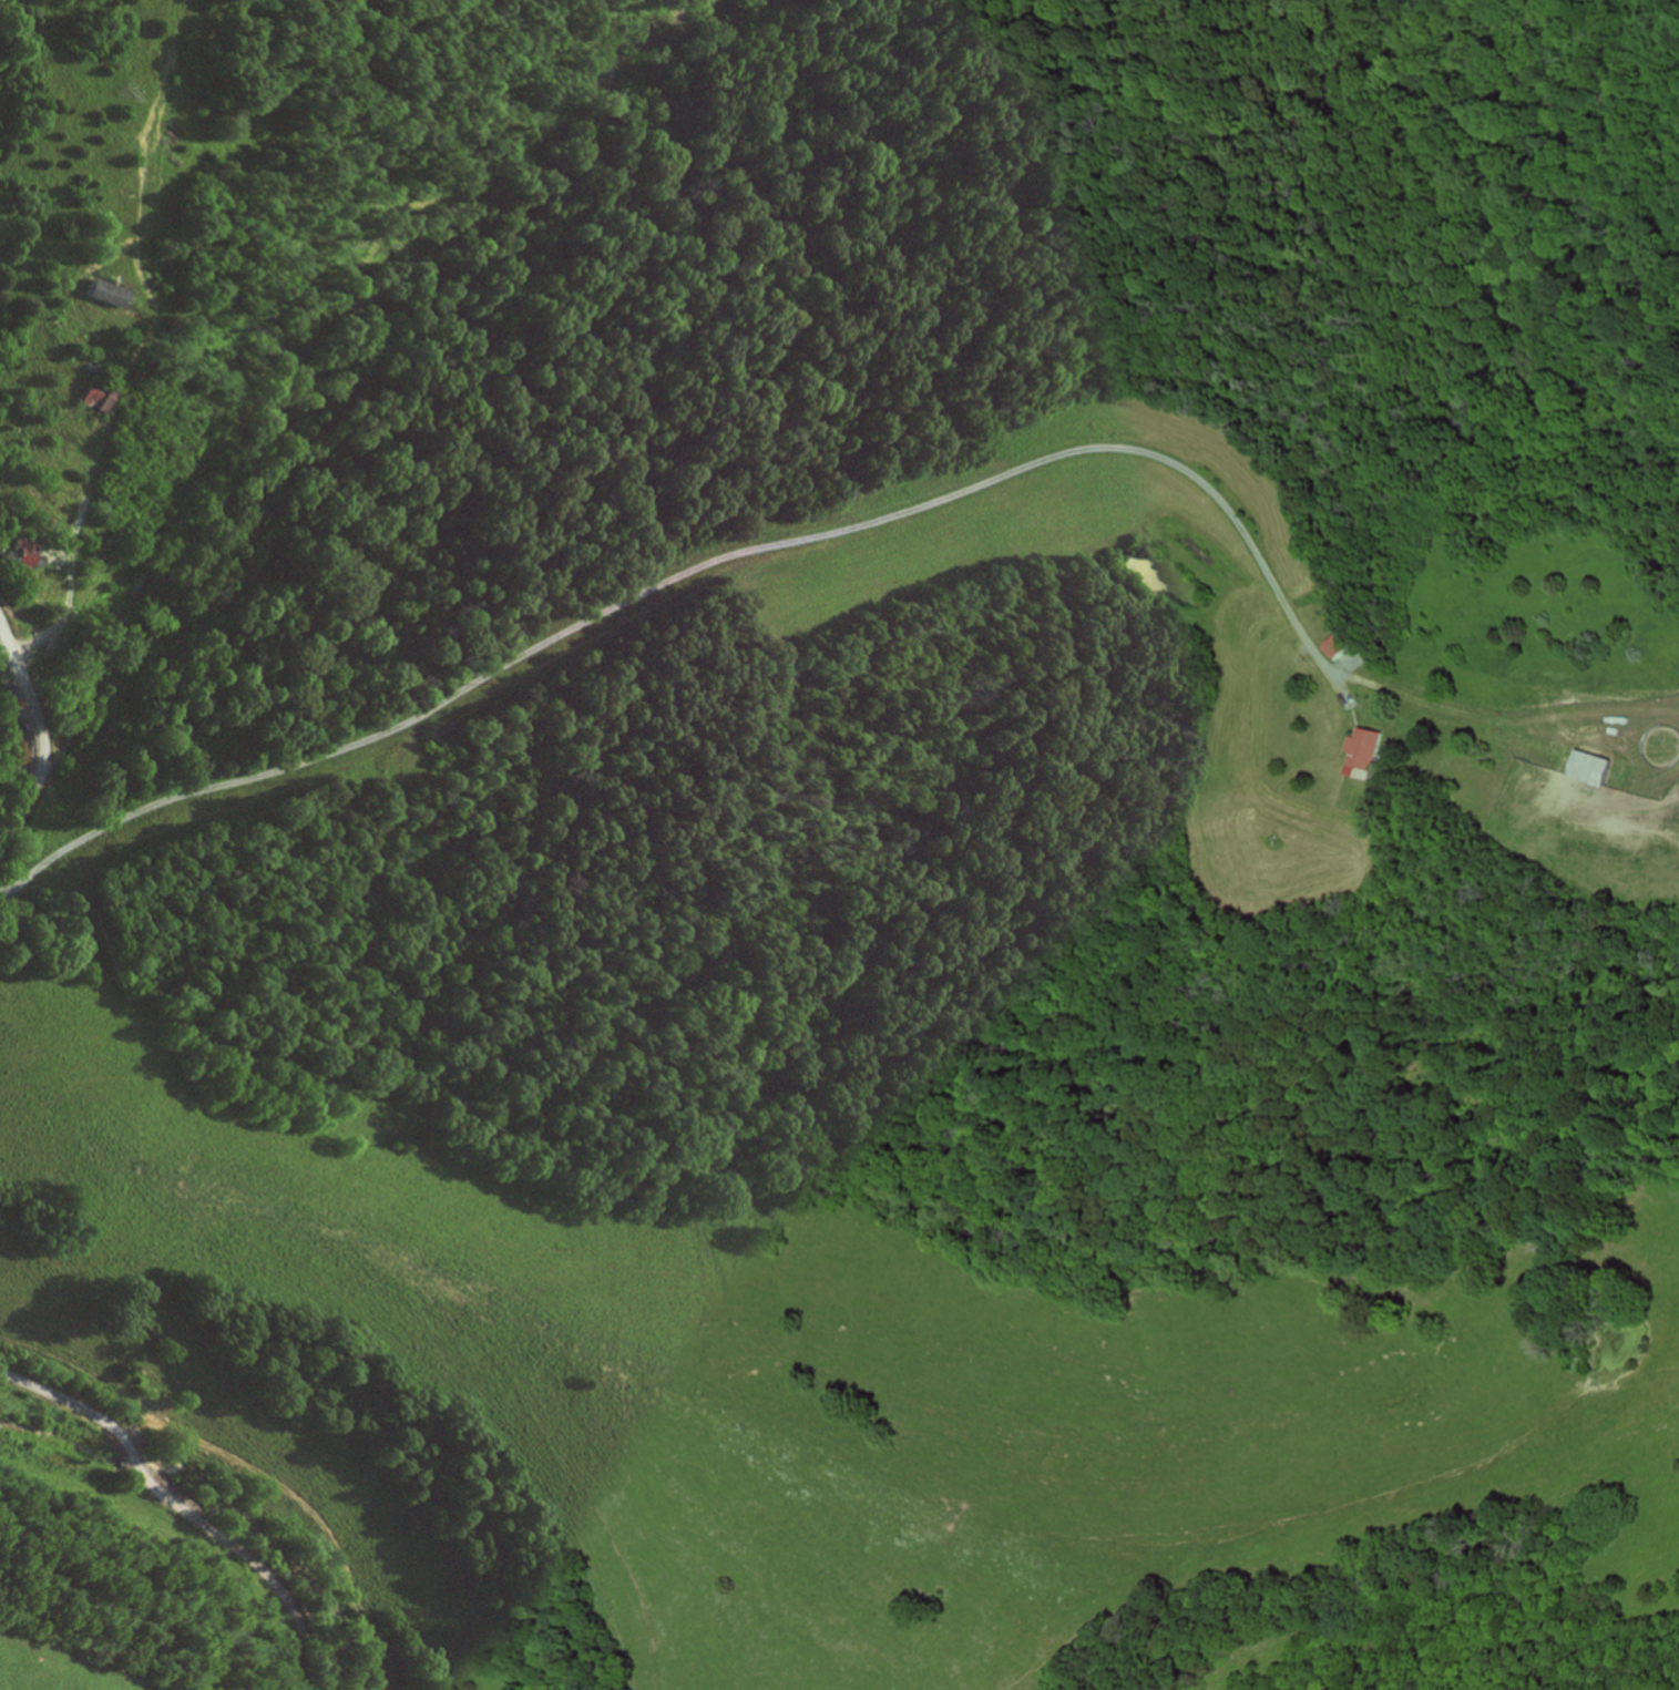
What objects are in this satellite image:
building: (112, 293)
building: (101, 397)
road: (745, 533)
building: (29, 553)
building: (1341, 646)
road: (44, 737)
building: (1365, 754)
building: (1597, 767)
road: (183, 1508)

